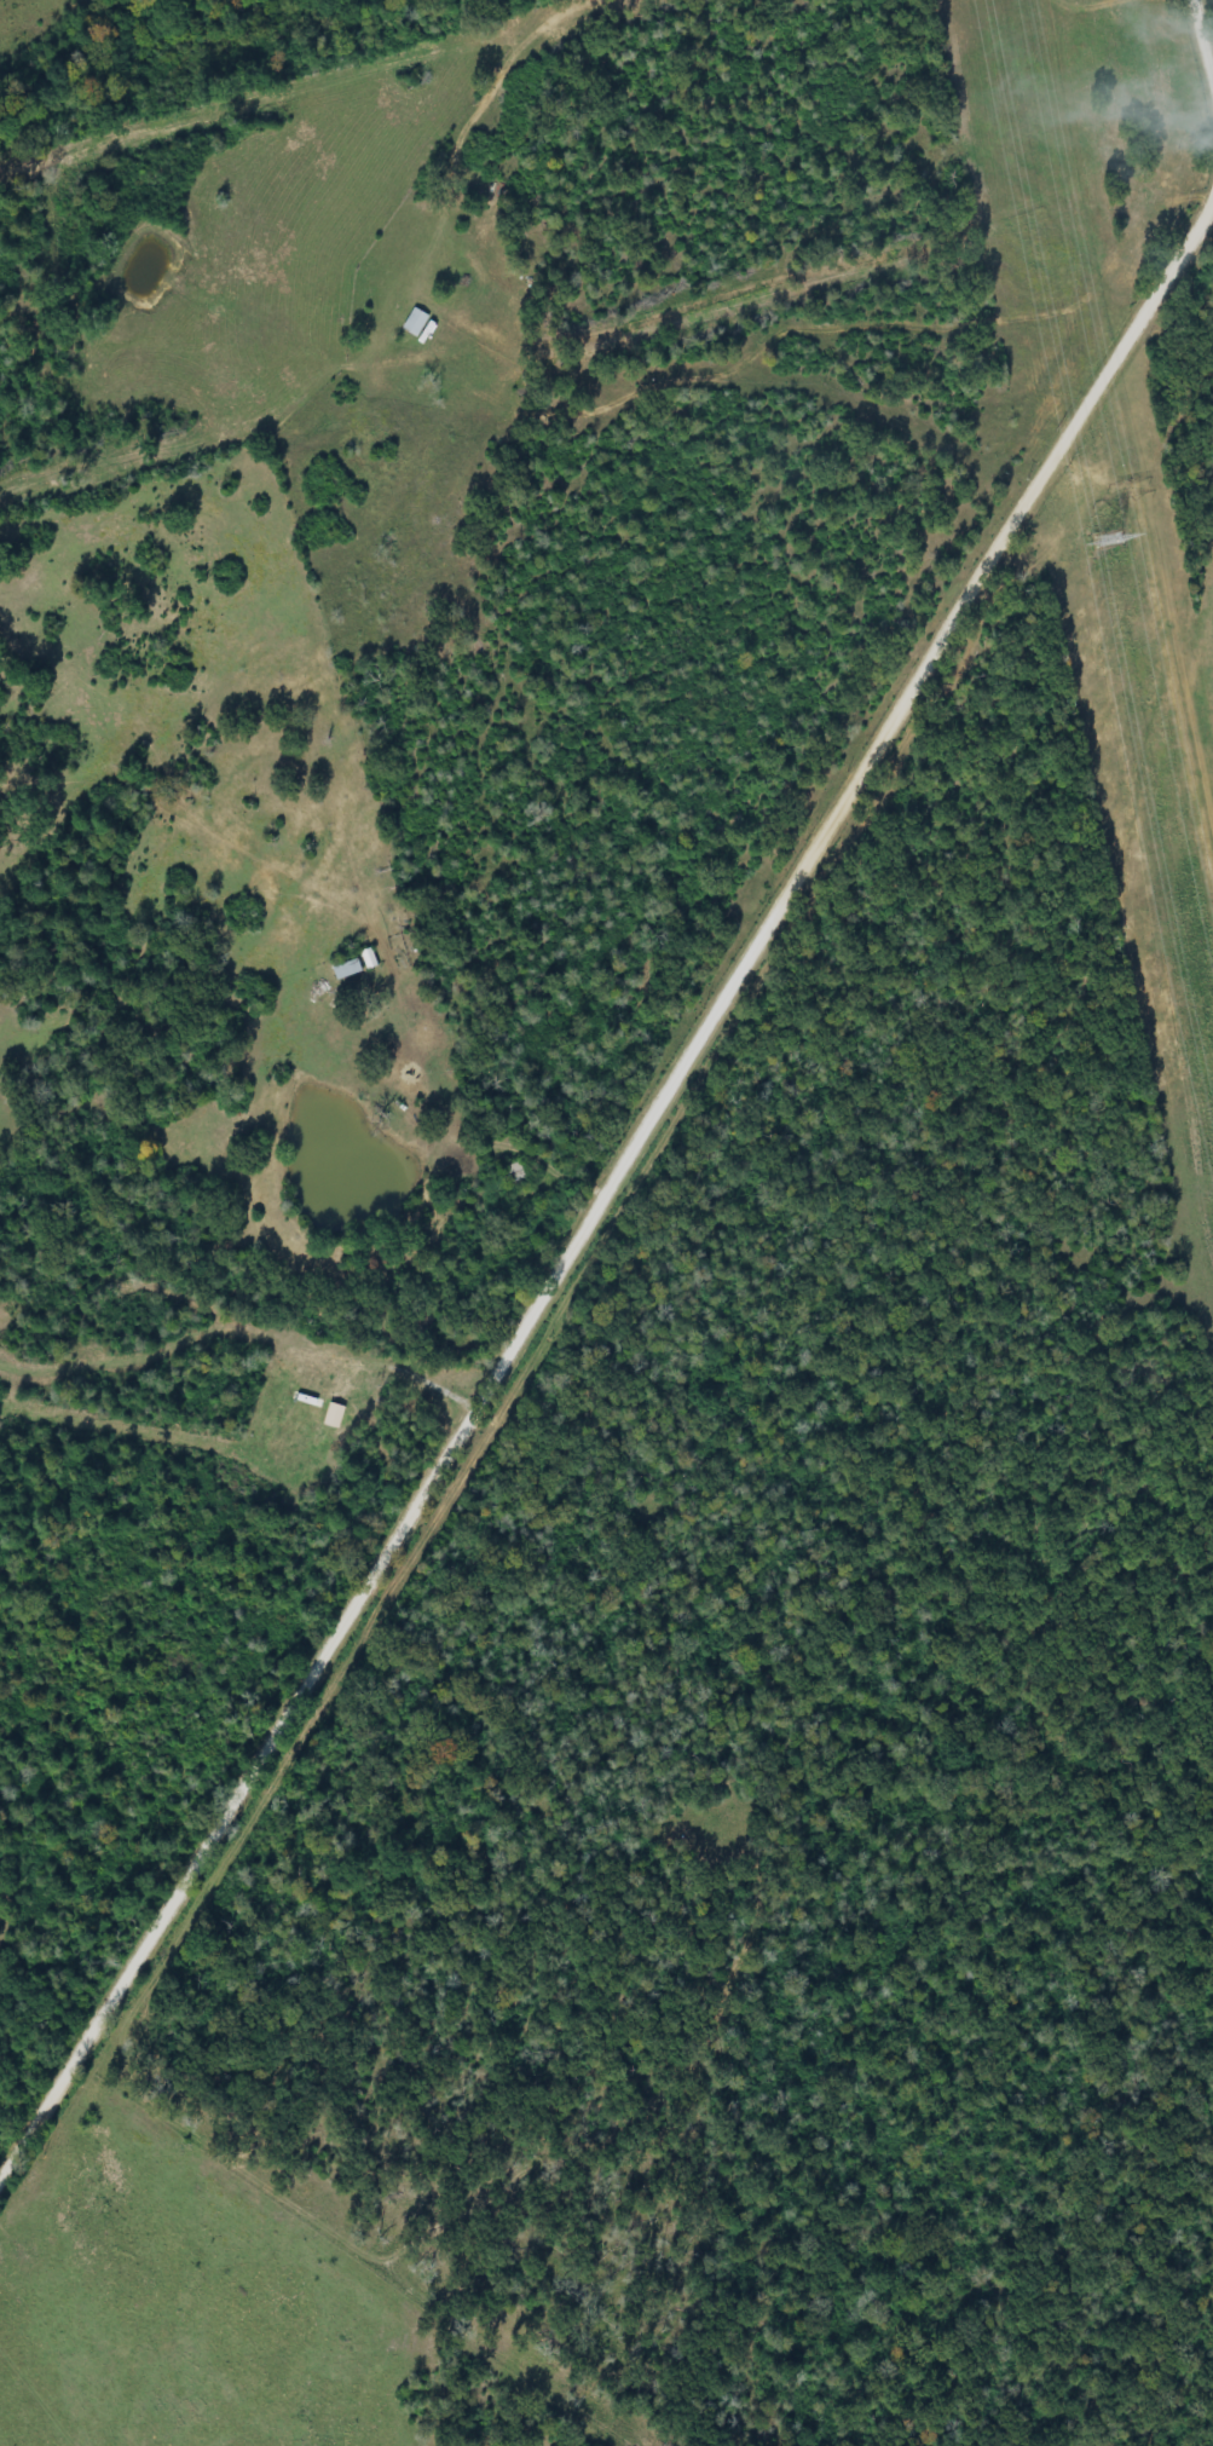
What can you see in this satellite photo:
road: (1207, 11)
building: (416, 323)
power tower: (1108, 540)
road: (612, 1169)

